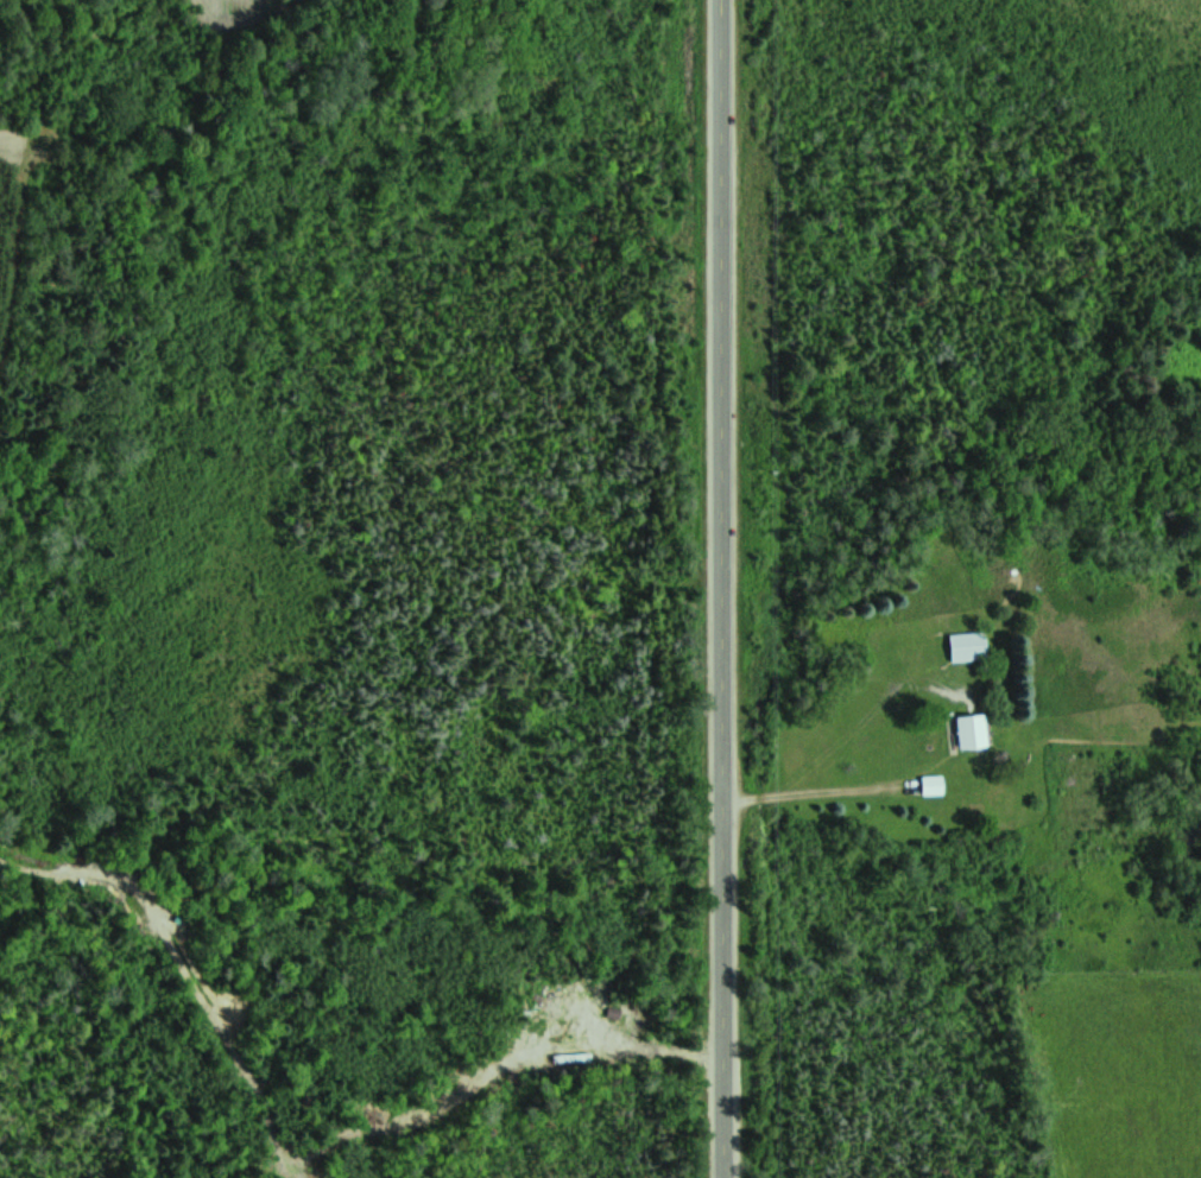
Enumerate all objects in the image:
road: (739, 588)
building: (974, 648)
building: (979, 734)
building: (937, 786)

